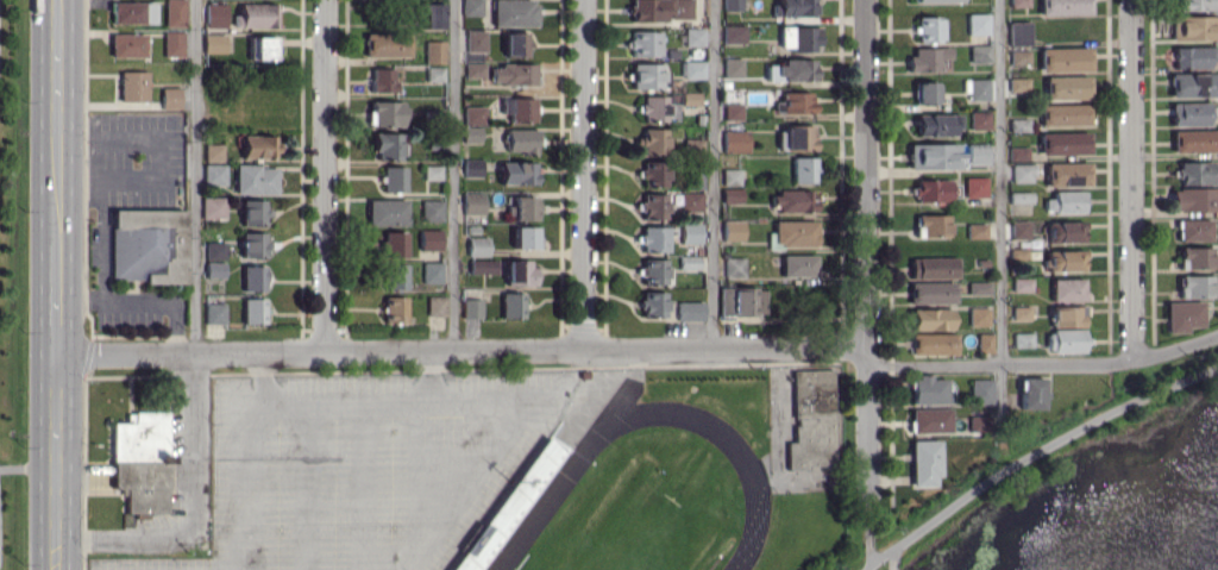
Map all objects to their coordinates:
building: (935, 1)
building: (732, 5)
building: (1198, 5)
building: (1065, 6)
building: (472, 7)
building: (793, 7)
building: (661, 10)
building: (133, 12)
building: (175, 13)
building: (514, 13)
building: (215, 14)
building: (256, 14)
building: (429, 15)
building: (978, 24)
building: (1194, 27)
building: (928, 29)
building: (734, 33)
building: (1018, 33)
building: (693, 37)
building: (799, 38)
building: (476, 40)
building: (172, 43)
building: (214, 43)
building: (515, 43)
building: (643, 43)
building: (127, 44)
building: (387, 44)
building: (260, 48)
building: (434, 51)
building: (979, 54)
building: (1019, 56)
building: (1194, 56)
building: (928, 58)
building: (1065, 58)
building: (733, 67)
building: (475, 69)
building: (693, 69)
building: (795, 69)
building: (434, 73)
building: (513, 74)
building: (646, 75)
building: (382, 80)
building: (1018, 84)
building: (1192, 84)
building: (133, 86)
building: (1067, 87)
building: (979, 88)
building: (925, 92)
building: (170, 98)
building: (690, 98)
building: (797, 102)
building: (520, 108)
building: (657, 108)
building: (733, 111)
building: (385, 113)
building: (1189, 113)
building: (475, 114)
building: (1063, 114)
building: (979, 119)
road: (56, 123)
building: (934, 124)
building: (471, 133)
building: (798, 137)
building: (522, 140)
building: (652, 140)
building: (735, 140)
building: (1194, 140)
building: (1063, 143)
building: (258, 145)
building: (388, 145)
building: (212, 151)
building: (1017, 152)
building: (977, 154)
building: (934, 156)
building: (472, 167)
building: (804, 169)
building: (432, 171)
building: (517, 173)
building: (653, 173)
road: (716, 173)
building: (1022, 173)
building: (1194, 173)
road: (196, 174)
building: (213, 174)
road: (325, 174)
road: (456, 174)
road: (585, 174)
building: (1067, 174)
building: (732, 176)
building: (255, 178)
building: (393, 178)
road: (1132, 180)
building: (975, 187)
building: (935, 190)
building: (732, 195)
building: (1019, 196)
building: (1194, 199)
building: (691, 200)
building: (795, 200)
building: (1065, 201)
building: (472, 202)
building: (651, 206)
building: (212, 207)
building: (521, 208)
building: (432, 209)
building: (253, 211)
building: (387, 212)
road: (1002, 215)
building: (931, 225)
building: (1019, 228)
building: (733, 230)
building: (1195, 230)
building: (977, 231)
building: (1066, 231)
building: (690, 232)
building: (795, 232)
building: (523, 237)
building: (653, 238)
building: (429, 239)
building: (394, 243)
building: (252, 244)
building: (146, 245)
building: (477, 245)
road: (866, 248)
building: (214, 249)
building: (1195, 256)
building: (1065, 259)
building: (482, 265)
building: (798, 265)
building: (734, 267)
building: (931, 267)
building: (214, 269)
building: (654, 271)
building: (432, 273)
building: (519, 273)
building: (395, 276)
building: (252, 277)
park: (13, 281)
building: (1195, 286)
building: (1067, 289)
building: (931, 292)
road: (55, 297)
building: (742, 301)
building: (652, 303)
building: (435, 305)
building: (511, 305)
building: (471, 307)
building: (394, 308)
building: (690, 309)
building: (252, 311)
building: (213, 313)
building: (979, 315)
building: (1068, 315)
building: (1184, 315)
building: (930, 318)
building: (1023, 339)
building: (1066, 340)
building: (985, 342)
building: (933, 343)
road: (460, 347)
road: (1043, 365)
building: (928, 389)
building: (981, 390)
building: (1031, 393)
road: (347, 403)
building: (811, 419)
building: (930, 420)
building: (978, 422)
road: (1032, 456)
road: (55, 461)
building: (140, 461)
building: (924, 462)
parking lot: (362, 468)
track: (569, 472)
park: (689, 474)
road: (193, 505)
road: (869, 528)
park: (630, 531)

